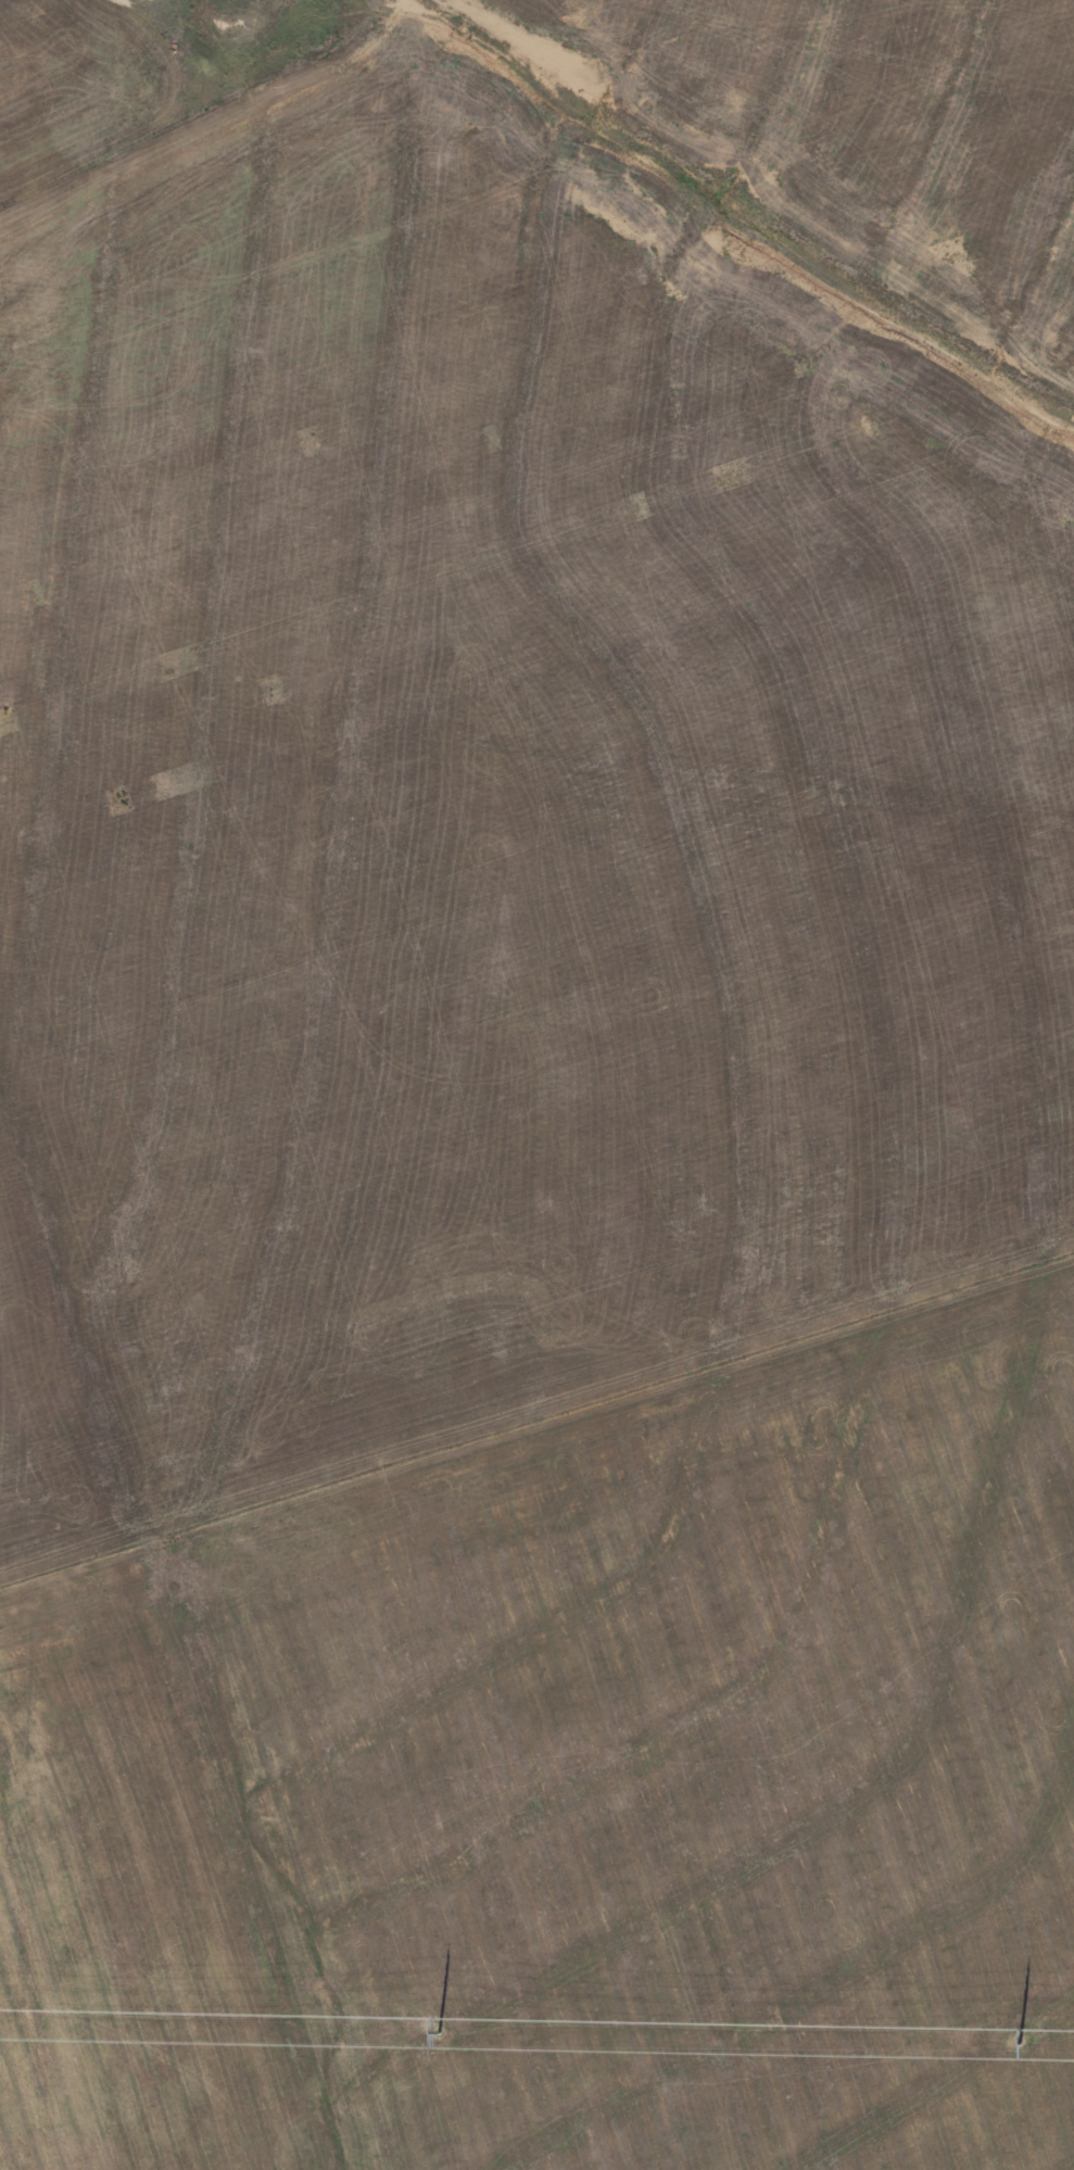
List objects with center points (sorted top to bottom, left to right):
power tower: (439, 2031)
power tower: (1020, 2042)

